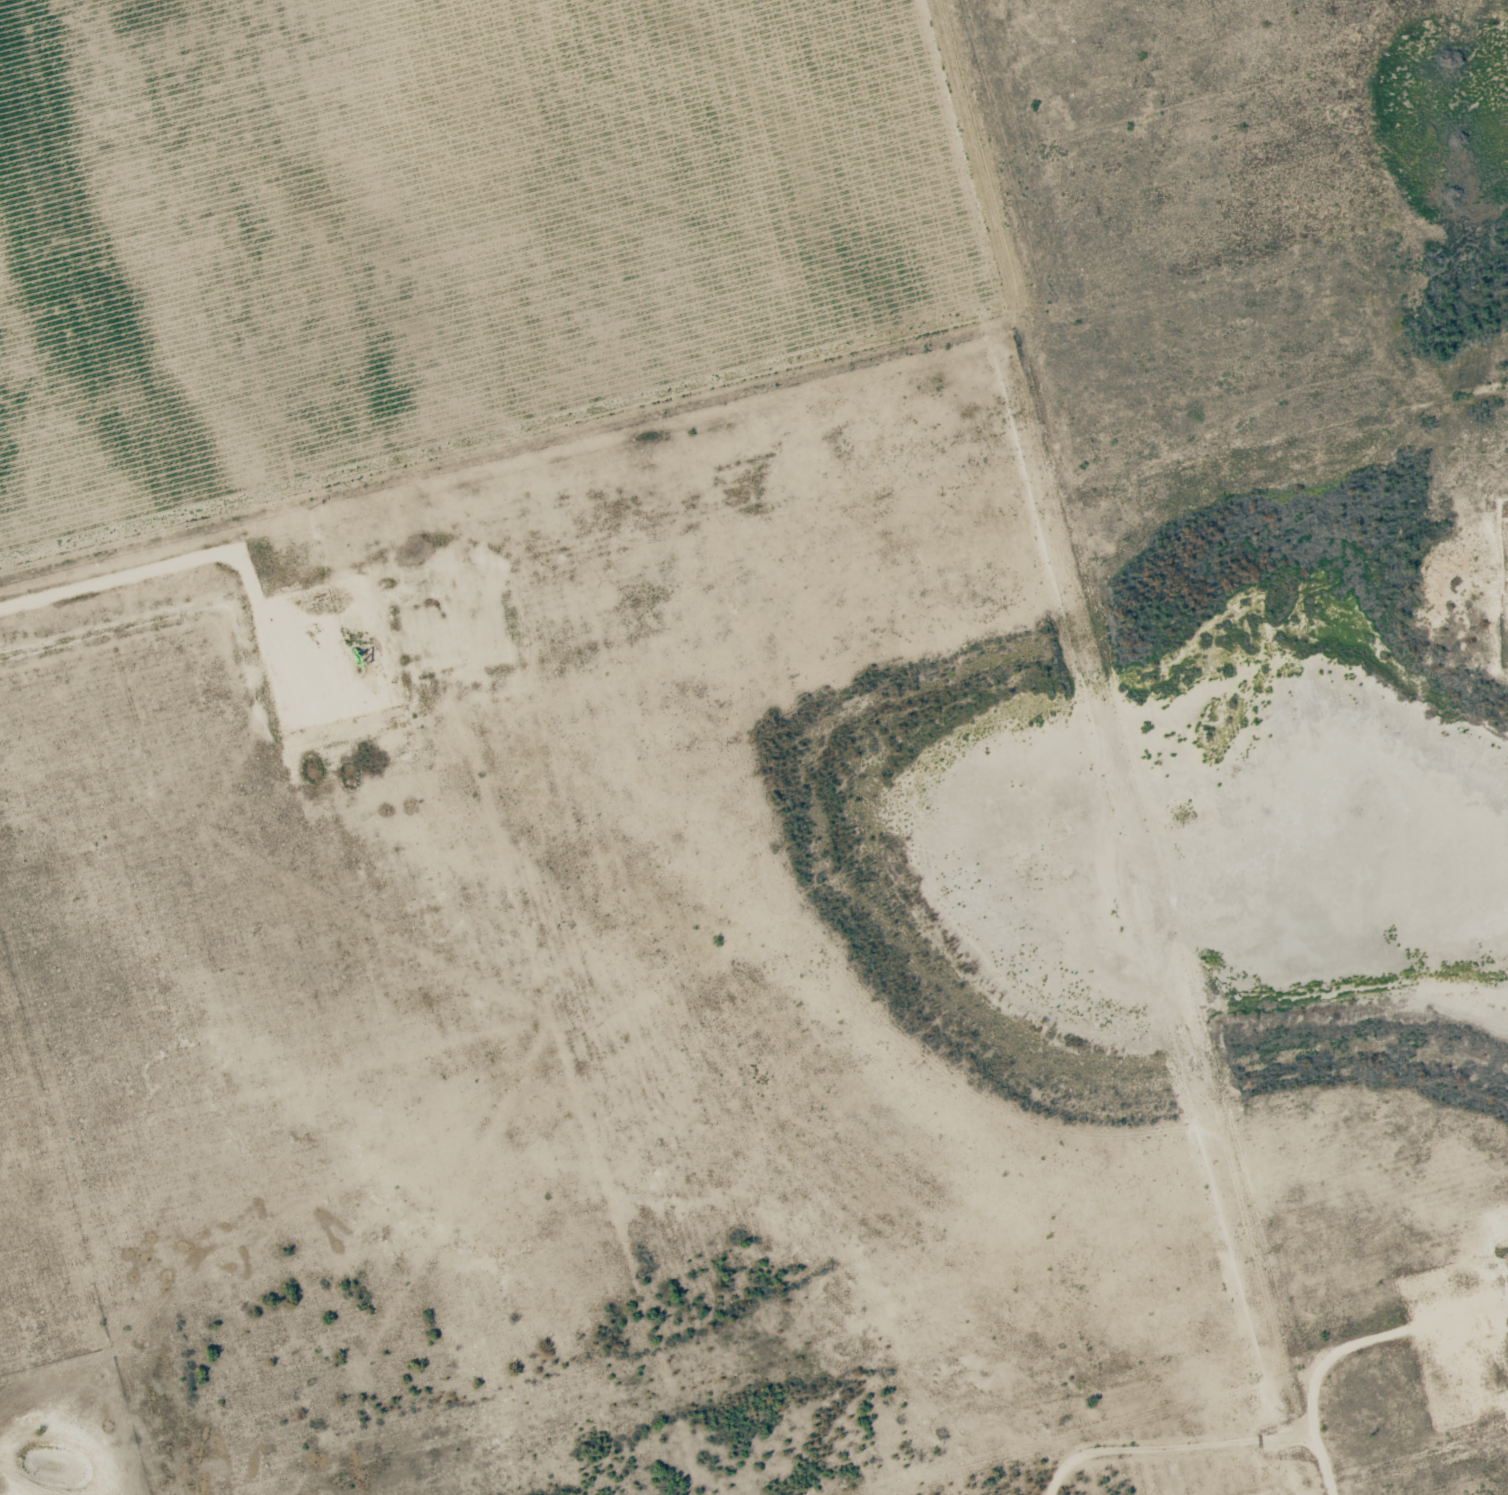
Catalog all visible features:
river: (765, 707)

